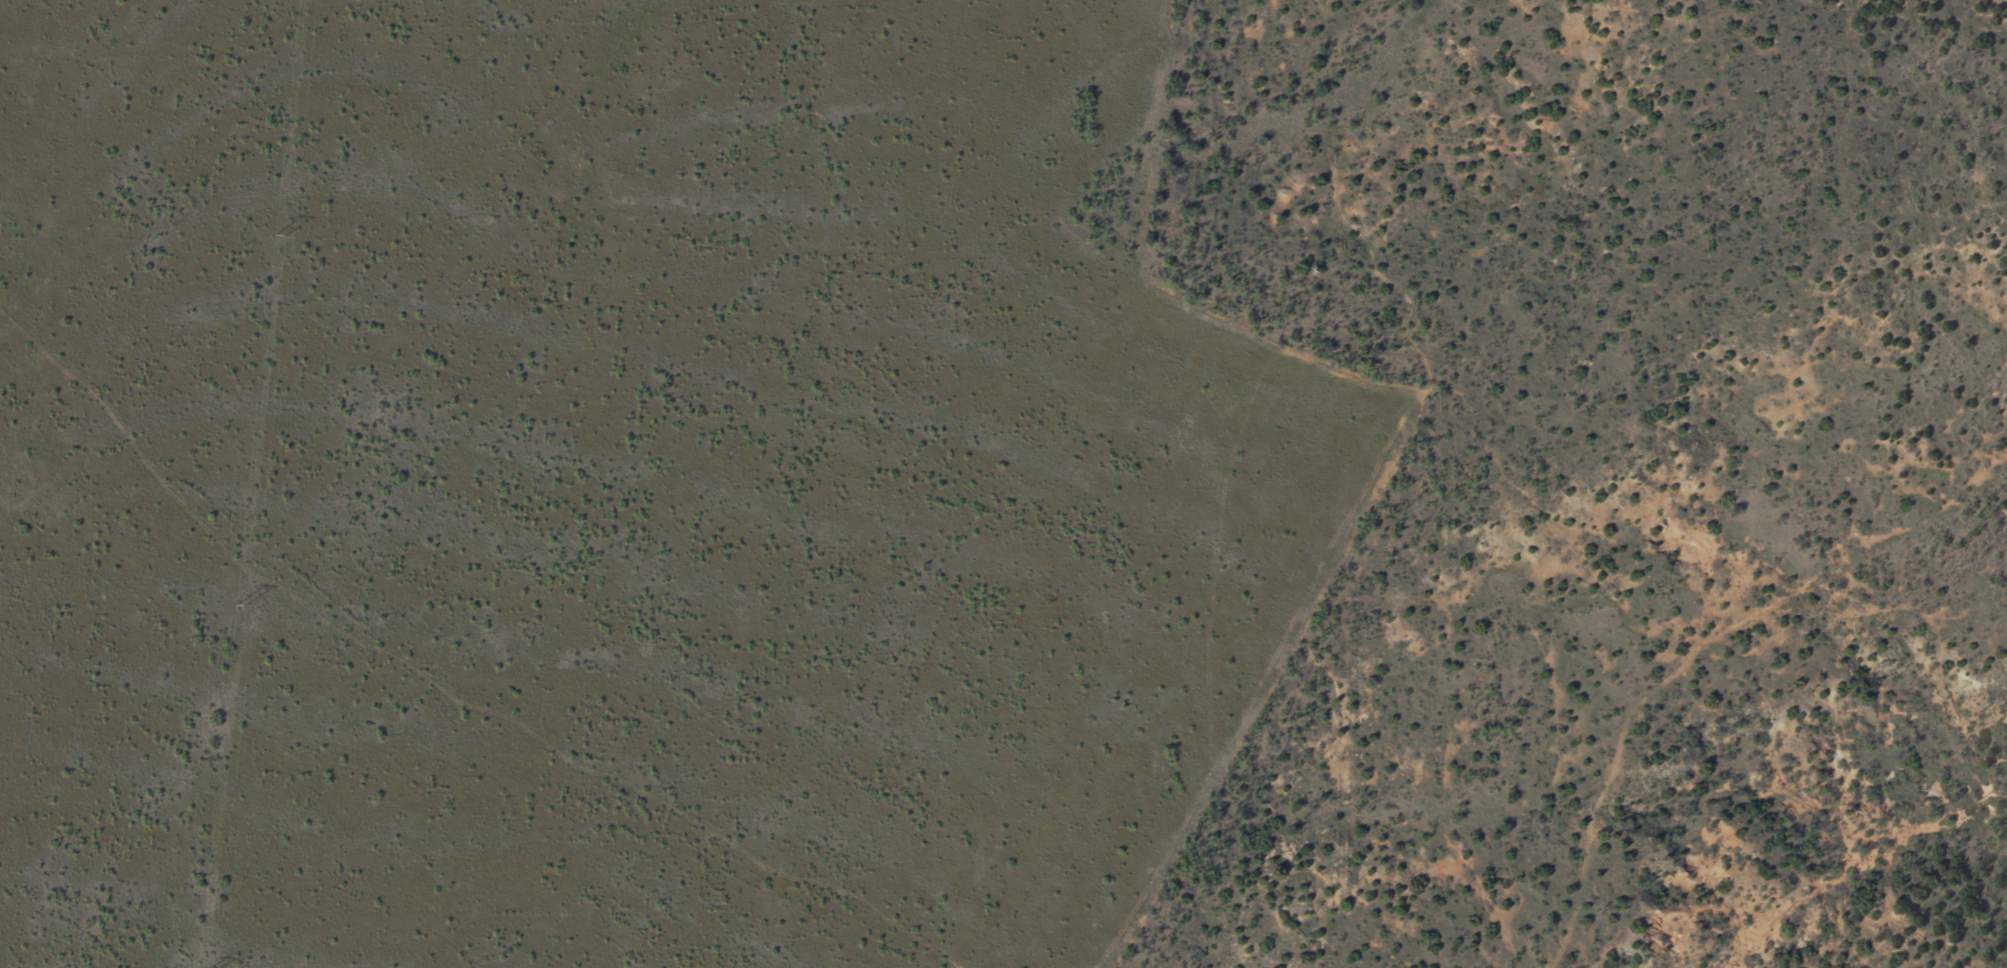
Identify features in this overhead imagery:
power tower: (280, 236)
power tower: (241, 606)

